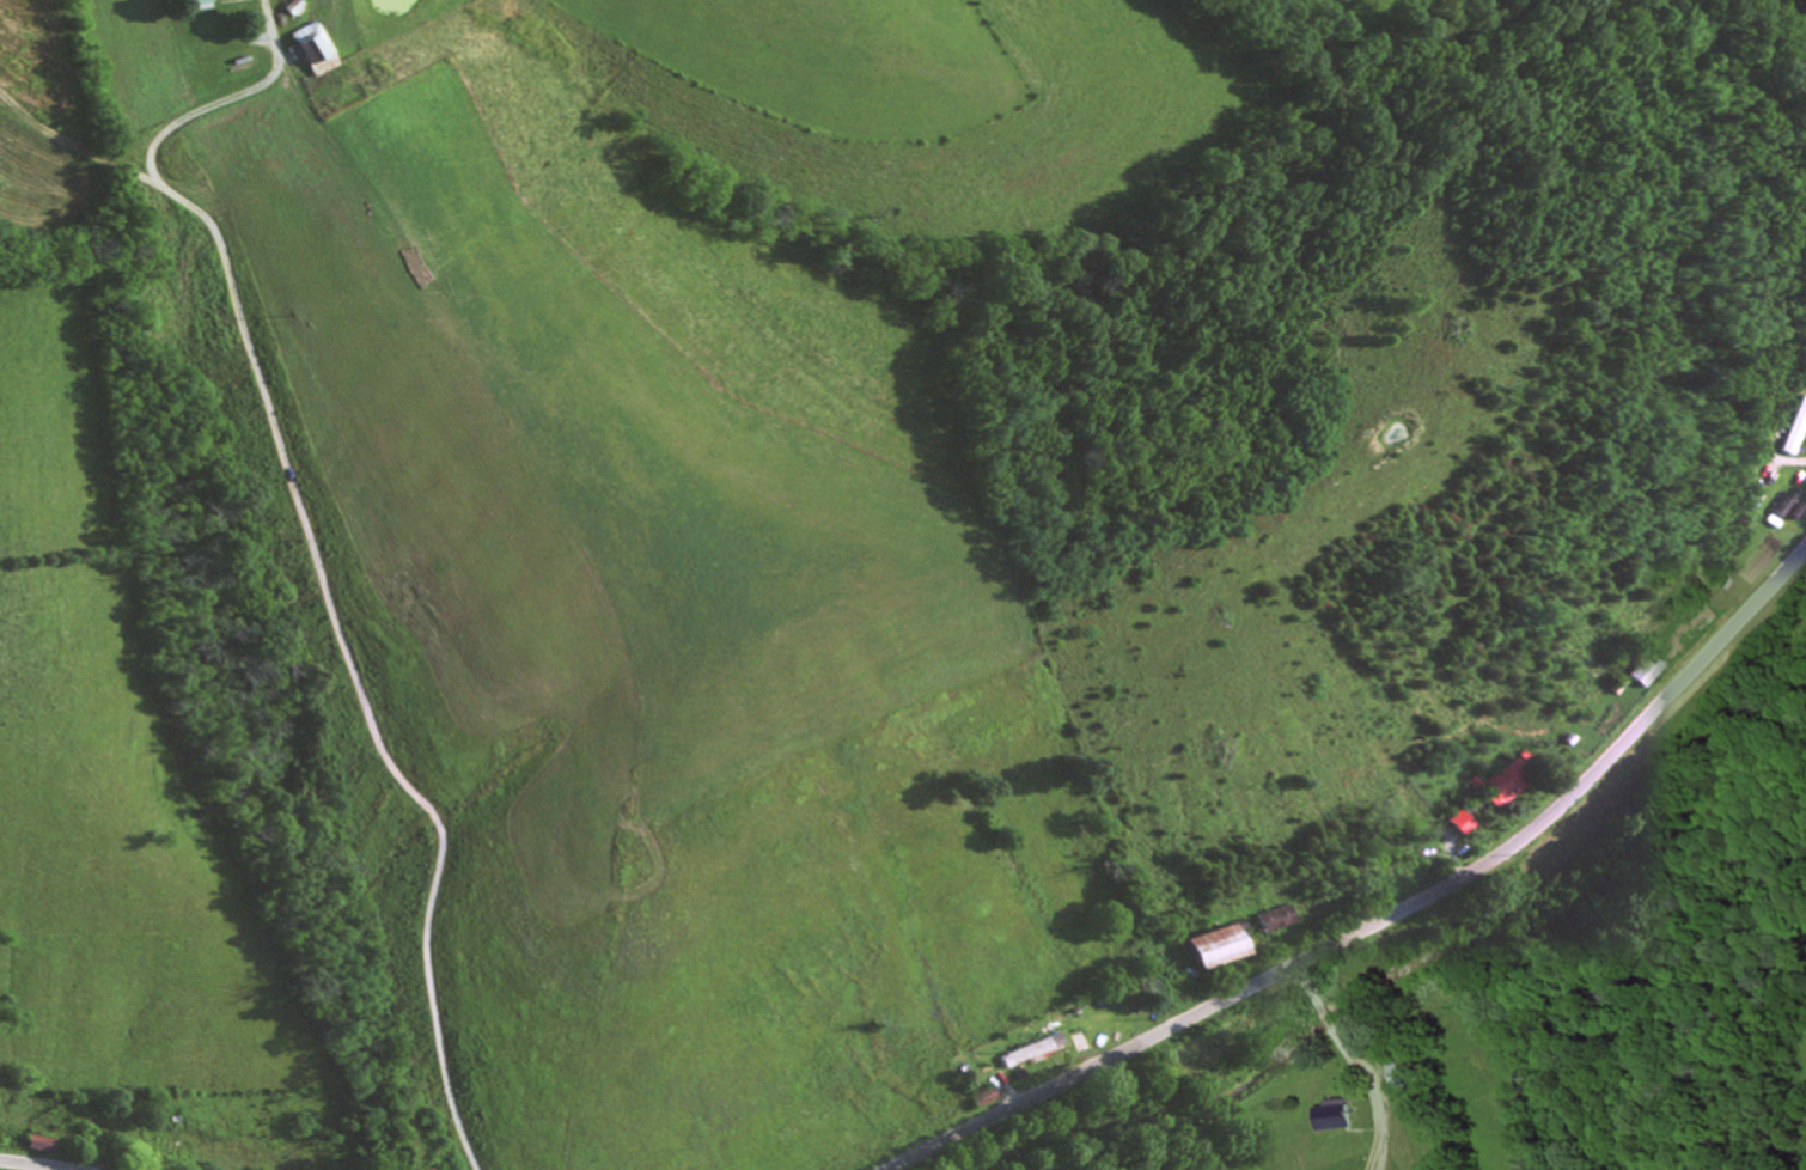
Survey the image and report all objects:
building: (203, 4)
building: (318, 48)
building: (1798, 431)
road: (385, 559)
building: (1651, 668)
building: (1502, 784)
road: (1387, 914)
building: (1280, 916)
building: (1225, 944)
building: (1091, 1041)
building: (1033, 1053)
road: (1325, 1053)
building: (1404, 1072)
building: (1336, 1114)
building: (171, 1146)
road: (32, 1164)

